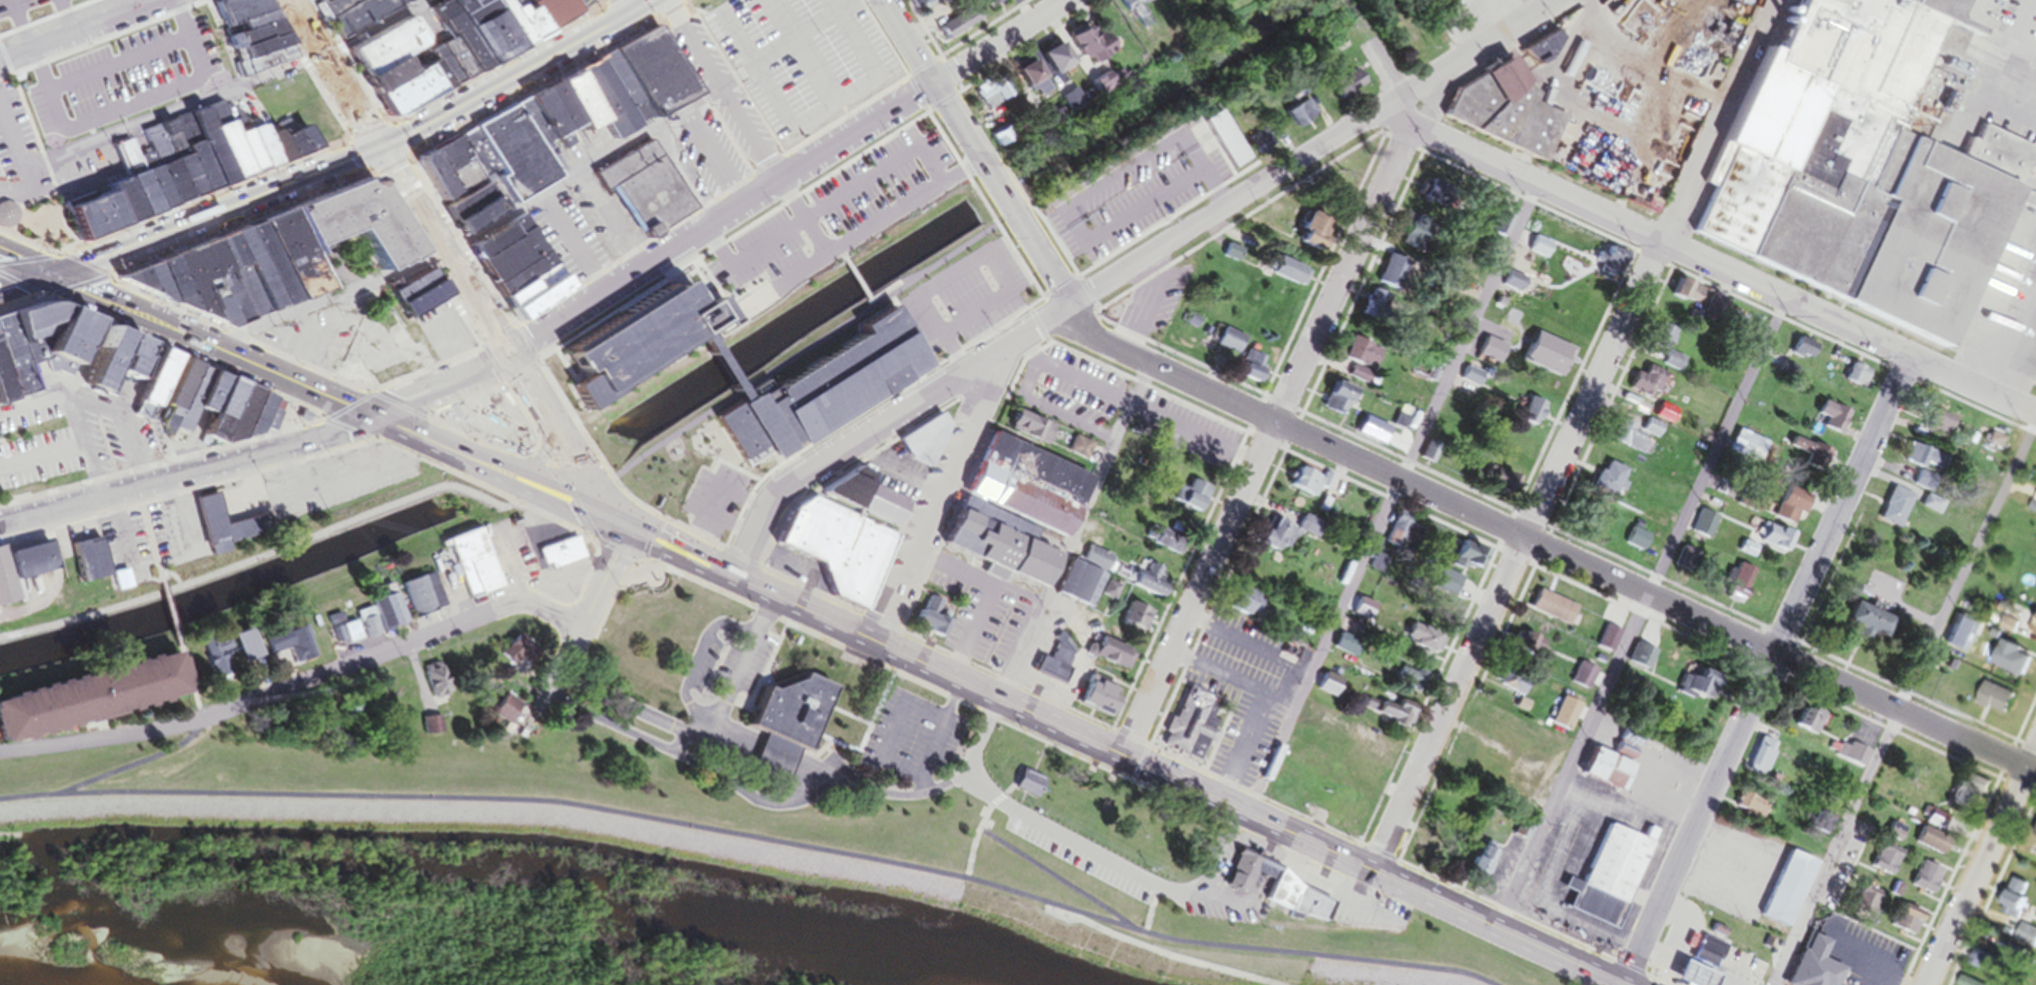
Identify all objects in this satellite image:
building: (1163, 0)
parking lot: (58, 1)
road: (631, 3)
building: (916, 3)
building: (1443, 3)
parking lot: (15, 5)
building: (982, 6)
road: (125, 7)
building: (27, 11)
building: (238, 13)
road: (69, 17)
building: (1132, 17)
road: (22, 25)
building: (246, 27)
building: (950, 29)
road: (85, 30)
road: (805, 37)
building: (251, 39)
building: (444, 46)
building: (1083, 51)
building: (1534, 51)
building: (257, 52)
parking lot: (805, 56)
road: (118, 62)
building: (1048, 63)
building: (263, 65)
road: (514, 73)
parking lot: (126, 75)
building: (666, 77)
building: (1019, 81)
building: (1338, 90)
road: (722, 91)
road: (939, 93)
building: (988, 95)
road: (131, 103)
building: (1069, 104)
building: (113, 112)
building: (1495, 117)
building: (1294, 118)
building: (565, 131)
road: (134, 133)
building: (308, 144)
building: (226, 146)
traffic signals: (380, 148)
building: (295, 149)
parking lot: (20, 150)
building: (266, 151)
building: (282, 151)
building: (212, 152)
parking lot: (705, 154)
road: (1318, 154)
building: (251, 158)
road: (715, 160)
building: (182, 163)
road: (24, 164)
building: (1861, 169)
building: (166, 170)
building: (204, 172)
building: (927, 172)
road: (398, 176)
road: (586, 176)
road: (787, 176)
building: (135, 183)
building: (881, 185)
building: (155, 187)
parking lot: (1135, 192)
building: (651, 194)
road: (1214, 194)
road: (1007, 200)
road: (823, 205)
building: (126, 206)
parking lot: (842, 211)
road: (218, 214)
road: (1069, 214)
building: (10, 218)
road: (803, 218)
road: (880, 219)
building: (98, 221)
road: (611, 224)
road: (825, 224)
building: (365, 229)
parking lot: (590, 229)
road: (738, 230)
building: (1495, 235)
building: (499, 236)
building: (1303, 243)
road: (576, 246)
building: (305, 258)
road: (1045, 259)
building: (1604, 266)
building: (281, 267)
road: (1721, 269)
building: (266, 273)
building: (749, 273)
building: (1284, 276)
building: (251, 279)
road: (861, 279)
traffic signals: (57, 281)
building: (810, 281)
building: (969, 284)
building: (235, 285)
building: (157, 287)
road: (28, 289)
building: (186, 289)
building: (213, 291)
parking lot: (968, 291)
parking lot: (1158, 298)
building: (1683, 300)
road: (331, 306)
building: (1372, 310)
building: (1586, 313)
building: (1711, 314)
parking lot: (308, 329)
road: (185, 338)
building: (90, 339)
building: (649, 340)
building: (1228, 346)
building: (1666, 350)
building: (1799, 352)
road: (795, 353)
building: (1487, 356)
building: (150, 360)
road: (2018, 361)
building: (1552, 362)
building: (125, 363)
road: (735, 364)
building: (1357, 365)
road: (519, 369)
building: (1248, 372)
building: (1784, 374)
building: (1427, 377)
building: (169, 382)
building: (827, 387)
building: (1643, 387)
building: (191, 388)
parking lot: (1067, 388)
building: (223, 396)
building: (1331, 404)
building: (234, 413)
building: (1526, 416)
building: (250, 418)
building: (266, 418)
road: (71, 420)
road: (127, 422)
building: (1835, 423)
road: (885, 424)
building: (1405, 424)
building: (1931, 427)
road: (554, 428)
parking lot: (1187, 429)
building: (1026, 432)
road: (1272, 432)
road: (543, 438)
road: (1574, 438)
building: (1637, 439)
road: (1192, 440)
parking lot: (71, 441)
building: (1992, 445)
road: (490, 447)
building: (1745, 449)
road: (260, 453)
building: (1077, 453)
road: (464, 456)
road: (41, 460)
building: (1920, 463)
building: (1814, 465)
building: (2029, 466)
road: (310, 477)
parking lot: (318, 481)
building: (1607, 482)
building: (1496, 486)
building: (1301, 487)
road: (586, 493)
parking lot: (715, 499)
road: (937, 499)
building: (1190, 503)
building: (1749, 505)
road: (575, 506)
road: (179, 507)
building: (878, 510)
building: (1893, 510)
building: (1784, 511)
traffic signals: (594, 515)
building: (1009, 515)
building: (1589, 522)
road: (611, 524)
parking lot: (180, 527)
road: (117, 529)
road: (150, 530)
building: (219, 530)
building: (1306, 530)
building: (1705, 531)
road: (1072, 534)
building: (1272, 540)
building: (1772, 542)
building: (838, 544)
parking lot: (128, 545)
road: (1548, 546)
road: (279, 551)
road: (1371, 552)
road: (682, 557)
building: (564, 558)
building: (1461, 561)
building: (95, 565)
building: (478, 568)
road: (175, 572)
building: (26, 573)
road: (607, 580)
building: (1442, 589)
building: (1141, 590)
building: (1082, 593)
building: (425, 599)
building: (1238, 606)
road: (173, 611)
parking lot: (983, 611)
building: (1548, 613)
road: (1643, 617)
building: (384, 621)
building: (924, 621)
building: (1131, 622)
building: (1863, 626)
building: (2032, 630)
building: (1419, 642)
road: (697, 643)
building: (1605, 643)
building: (294, 647)
road: (393, 650)
building: (1528, 651)
road: (1259, 654)
building: (523, 658)
building: (1106, 658)
building: (221, 661)
road: (573, 661)
building: (2005, 663)
building: (1641, 665)
building: (1049, 668)
road: (1766, 671)
building: (436, 679)
road: (723, 681)
building: (1581, 681)
road: (193, 685)
building: (1512, 685)
building: (1417, 686)
building: (1693, 689)
parking lot: (1241, 690)
building: (96, 693)
road: (619, 698)
building: (1091, 699)
road: (1905, 701)
building: (1991, 703)
road: (1265, 704)
road: (695, 713)
building: (1391, 716)
building: (512, 717)
building: (796, 719)
building: (1562, 720)
road: (627, 726)
road: (888, 726)
building: (1809, 727)
building: (433, 729)
building: (1188, 729)
parking lot: (906, 733)
road: (100, 739)
building: (1622, 755)
building: (1763, 760)
building: (1855, 760)
road: (134, 768)
road: (846, 774)
building: (1603, 775)
road: (1170, 783)
building: (1023, 789)
building: (1966, 794)
building: (1750, 811)
building: (1934, 825)
building: (2035, 825)
building: (1820, 829)
park: (754, 836)
building: (1892, 838)
road: (743, 843)
building: (2035, 844)
building: (1928, 846)
building: (1882, 865)
road: (1982, 867)
building: (1479, 868)
building: (1606, 880)
road: (1047, 882)
building: (1922, 883)
building: (1785, 895)
building: (1863, 905)
building: (2009, 910)
building: (1901, 925)
building: (2024, 941)
building: (1703, 957)
building: (1810, 967)
building: (1960, 983)

